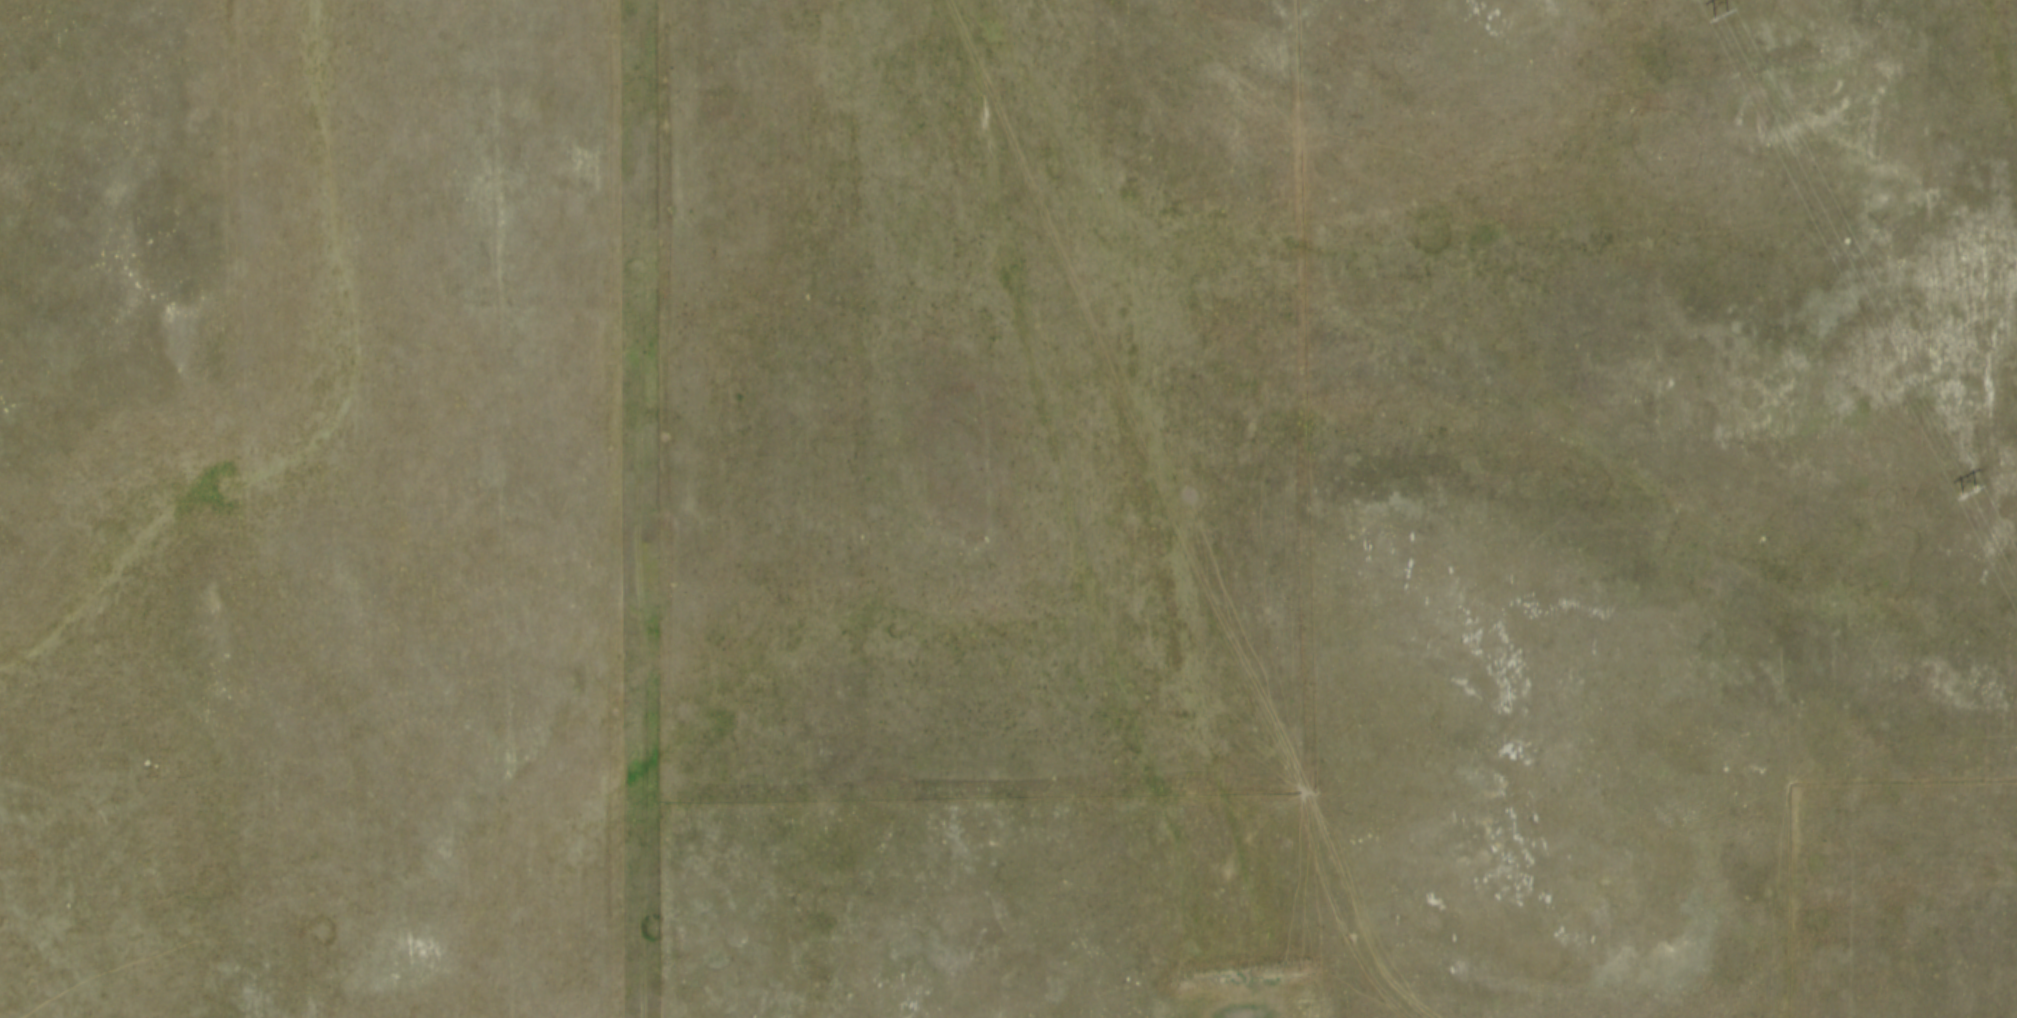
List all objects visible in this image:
power tower: (1717, 16)
power tower: (1965, 492)

